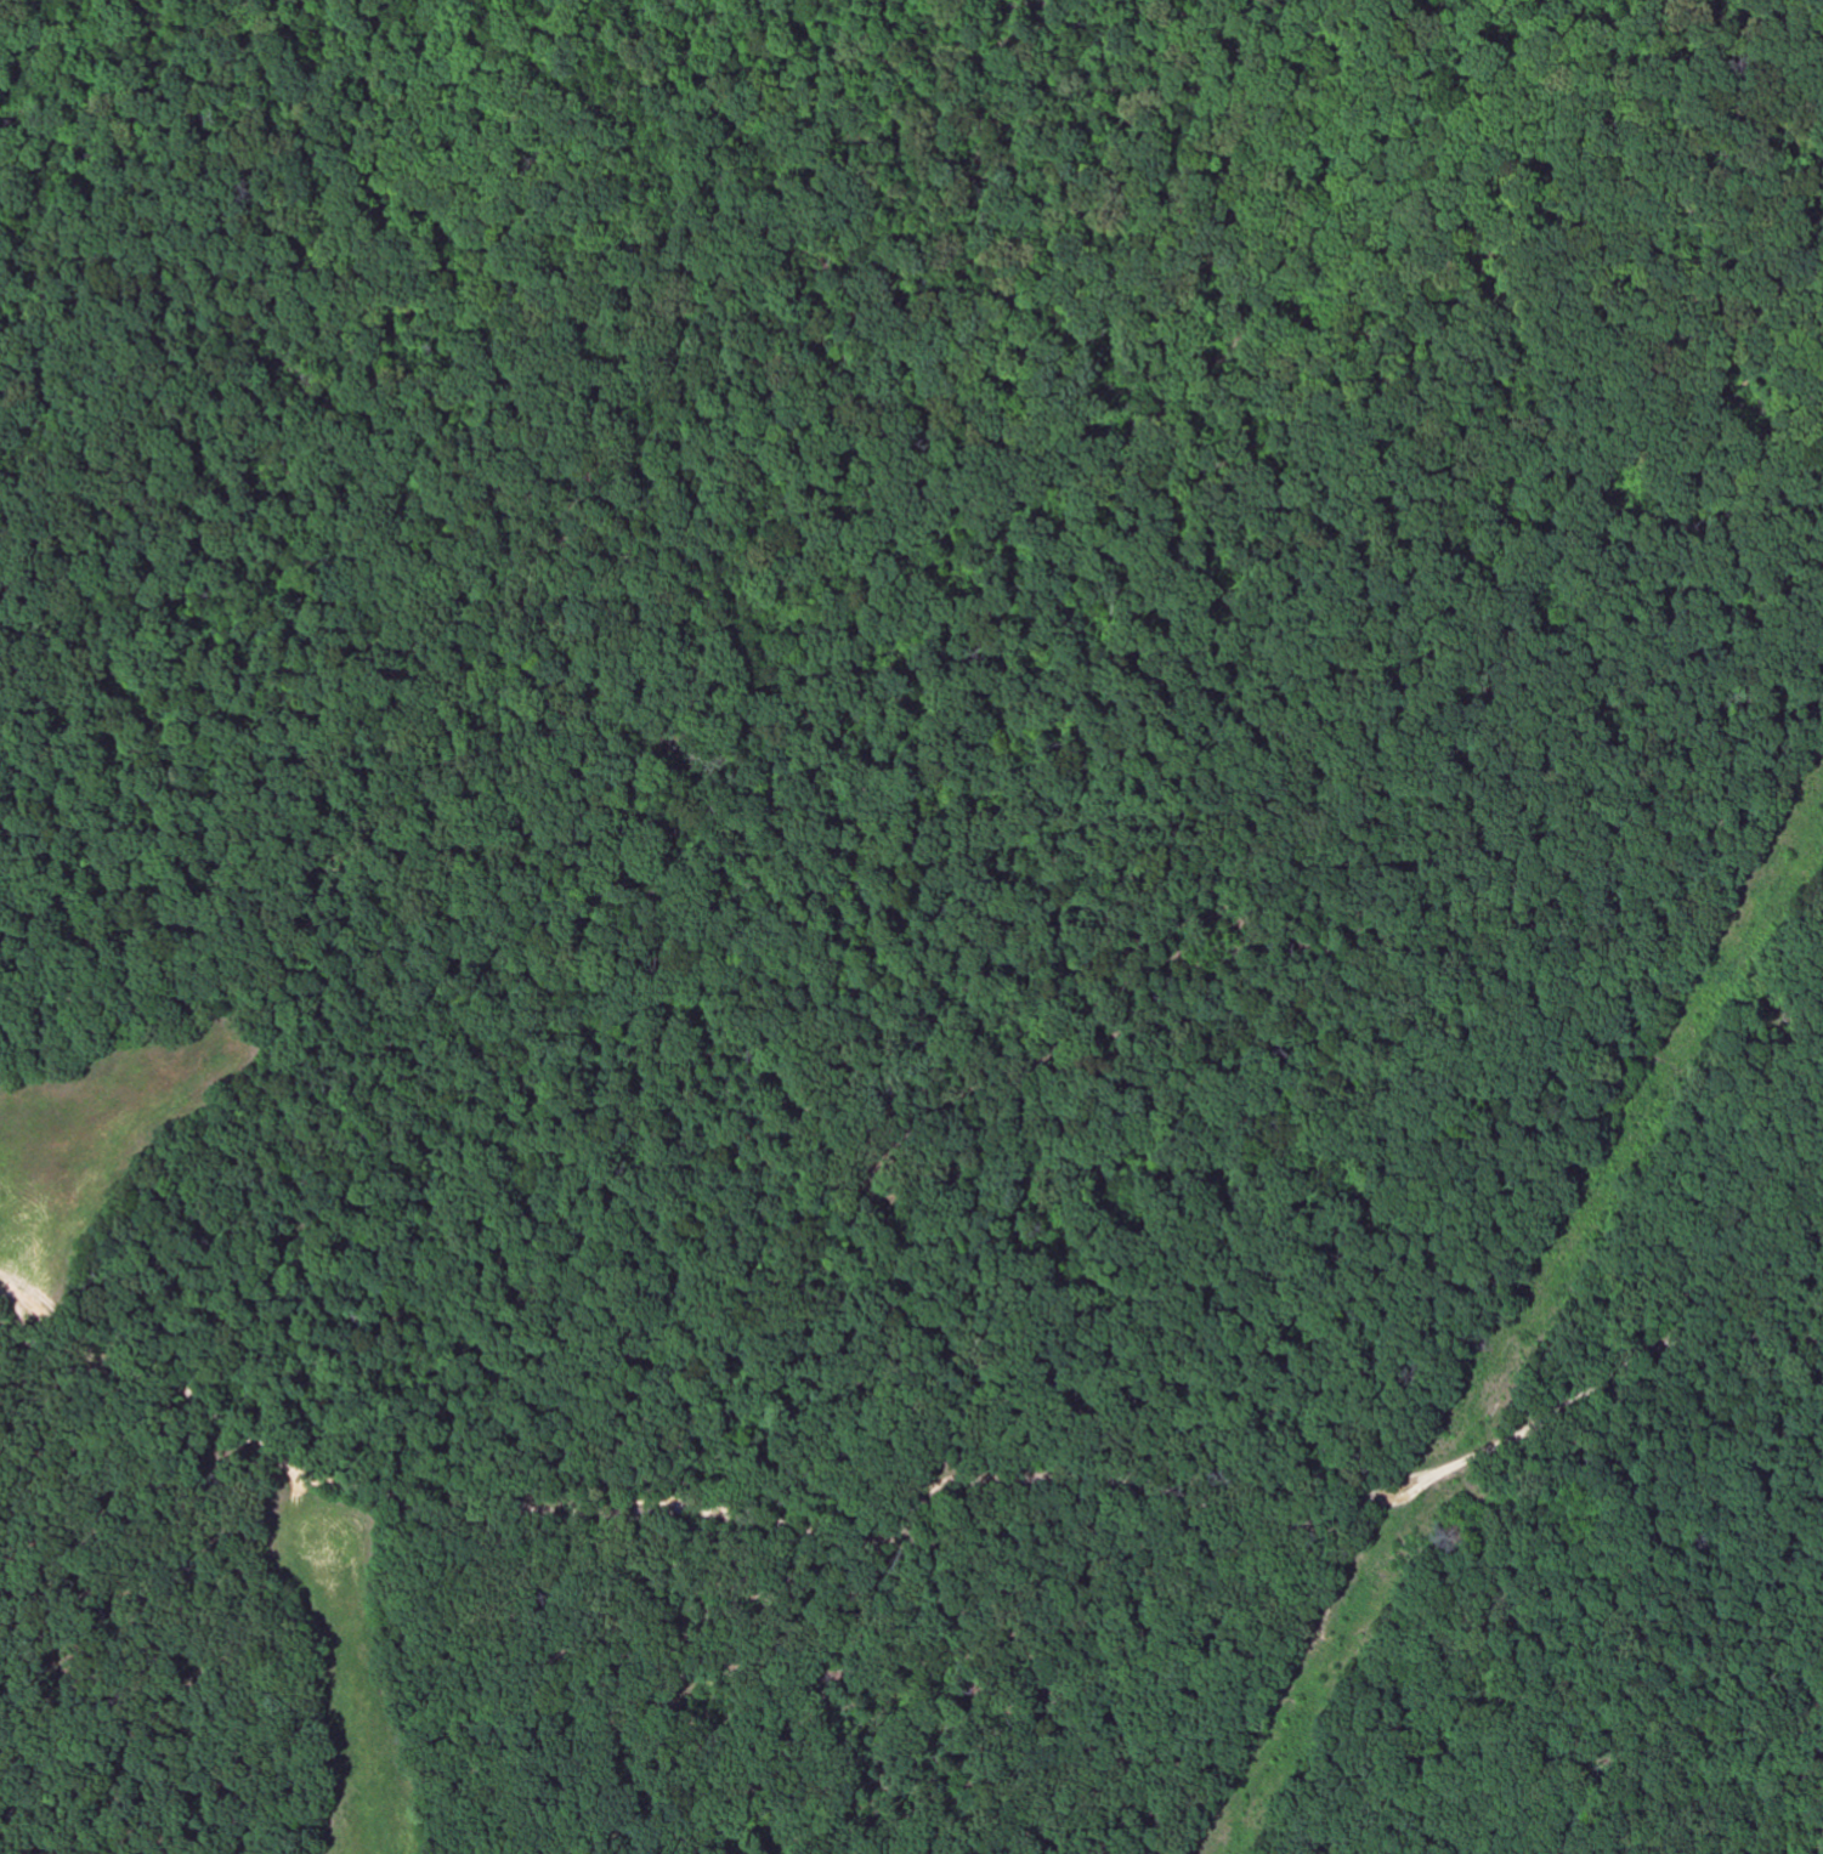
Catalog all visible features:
road: (904, 1521)

